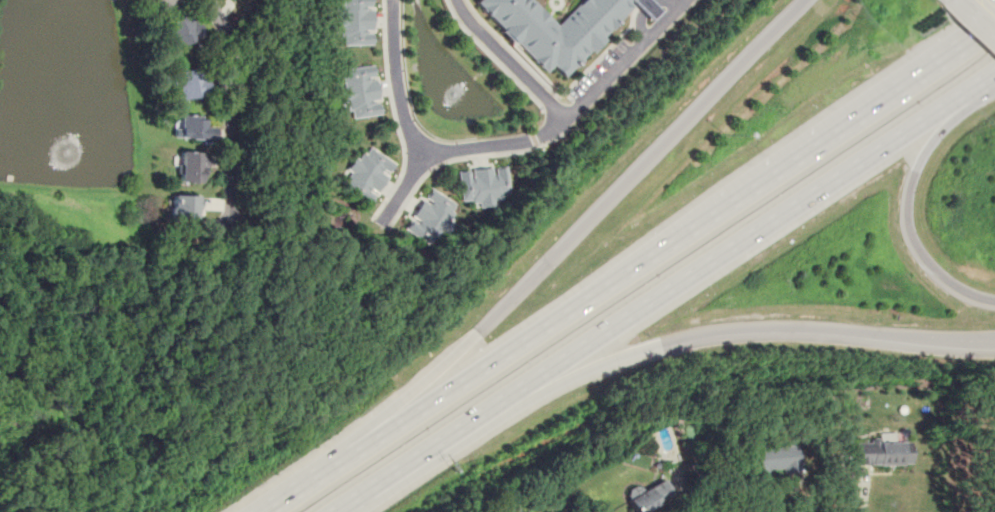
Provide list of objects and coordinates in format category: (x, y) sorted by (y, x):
building: (162, 4)
road: (645, 8)
road: (983, 11)
building: (356, 22)
road: (970, 25)
building: (560, 28)
building: (182, 31)
road: (512, 49)
road: (605, 50)
road: (492, 57)
road: (509, 60)
building: (190, 82)
road: (984, 82)
building: (359, 91)
road: (233, 104)
road: (393, 113)
building: (191, 128)
road: (942, 128)
road: (503, 145)
road: (465, 157)
road: (640, 165)
building: (190, 166)
road: (780, 172)
building: (366, 174)
building: (482, 185)
road: (402, 187)
building: (183, 209)
building: (429, 215)
road: (747, 235)
road: (926, 252)
road: (827, 328)
road: (593, 366)
road: (465, 380)
road: (419, 387)
road: (427, 448)
building: (882, 454)
building: (776, 459)
road: (315, 479)
building: (647, 496)

